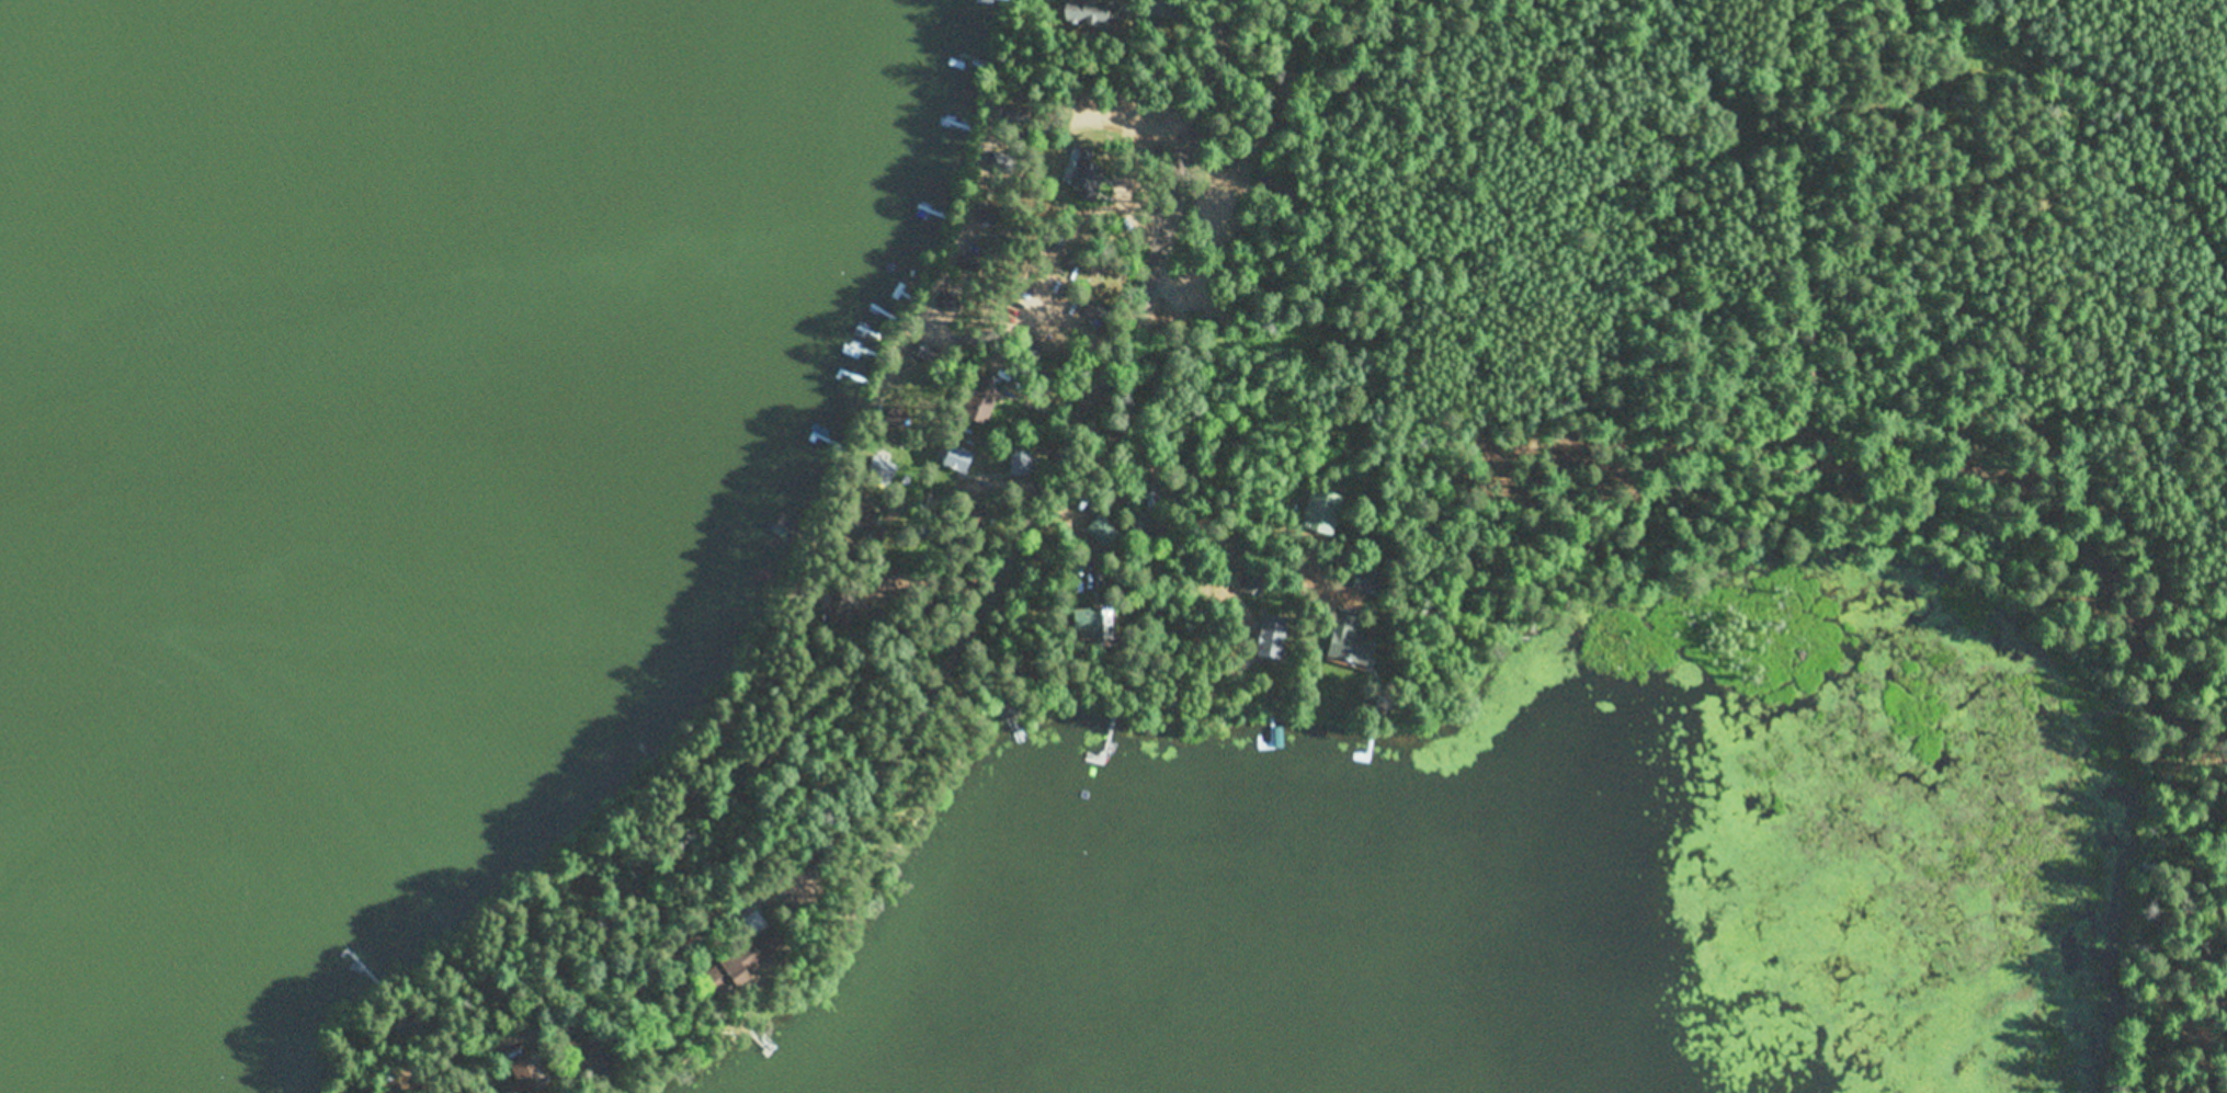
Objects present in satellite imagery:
building: (1166, 0)
building: (1161, 1)
building: (1089, 12)
building: (1000, 160)
building: (1088, 175)
building: (1283, 195)
building: (988, 213)
building: (1046, 237)
building: (970, 263)
building: (947, 303)
building: (1086, 307)
building: (1097, 311)
building: (1026, 346)
building: (927, 353)
building: (1049, 379)
building: (982, 398)
building: (897, 419)
building: (955, 458)
building: (1020, 459)
building: (879, 471)
road: (1024, 501)
building: (1323, 512)
building: (968, 519)
building: (861, 521)
building: (1152, 526)
building: (1101, 530)
building: (882, 571)
building: (1366, 579)
building: (1196, 589)
building: (834, 612)
building: (1091, 624)
building: (1271, 633)
building: (1348, 640)
building: (648, 866)
building: (590, 887)
building: (743, 963)
building: (558, 969)
building: (489, 988)
building: (417, 1032)
building: (596, 1066)
building: (529, 1071)
building: (391, 1088)

